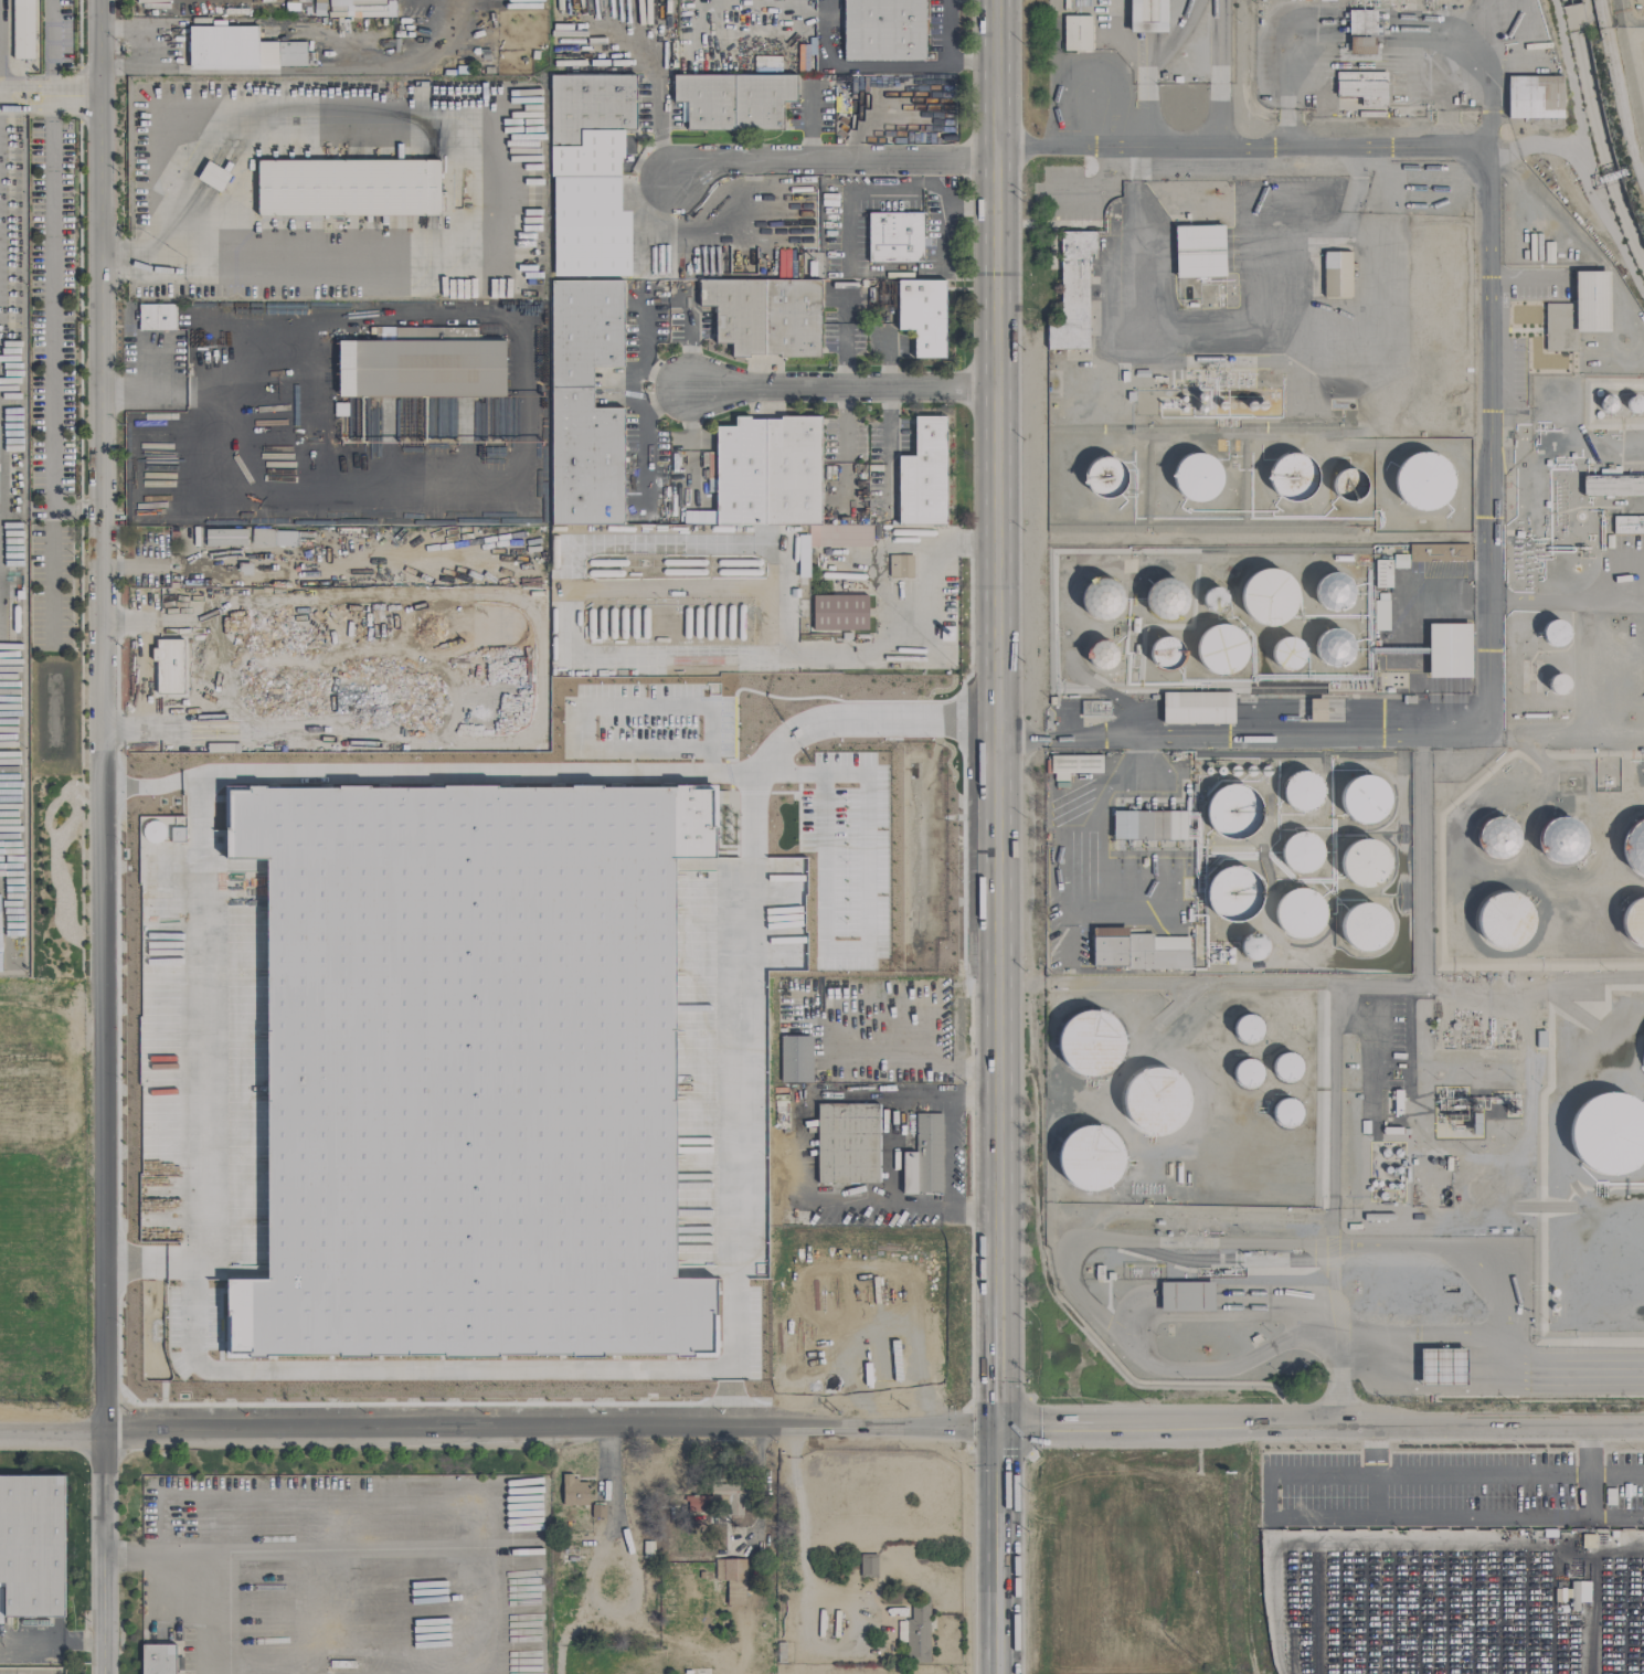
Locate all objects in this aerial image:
building: (314, 7)
road: (1145, 15)
building: (1147, 17)
road: (1573, 18)
building: (1360, 22)
building: (23, 29)
building: (883, 30)
building: (1076, 33)
road: (1219, 42)
building: (1361, 45)
road: (151, 49)
building: (240, 50)
road: (1144, 87)
building: (1362, 88)
road: (62, 95)
road: (12, 97)
building: (1534, 97)
building: (734, 100)
road: (463, 105)
road: (1219, 115)
road: (1580, 131)
road: (1238, 147)
road: (830, 161)
building: (590, 173)
building: (348, 188)
road: (1099, 190)
building: (894, 237)
building: (1199, 251)
building: (1336, 274)
road: (1523, 277)
building: (1072, 292)
building: (1578, 311)
building: (922, 315)
building: (764, 316)
building: (157, 317)
road: (689, 342)
building: (422, 364)
road: (51, 367)
road: (842, 388)
building: (1199, 398)
storage tank: (1199, 398)
building: (1181, 400)
storage tank: (1181, 400)
building: (584, 404)
building: (1633, 404)
storage tank: (1633, 404)
building: (1605, 405)
storage tank: (1605, 405)
building: (1221, 406)
storage tank: (1221, 406)
building: (1250, 406)
storage tank: (1250, 406)
building: (1260, 406)
storage tank: (1260, 406)
building: (1199, 409)
storage tank: (1199, 409)
building: (1181, 410)
storage tank: (1181, 410)
road: (888, 422)
building: (768, 473)
building: (923, 476)
building: (1107, 476)
storage tank: (1107, 476)
building: (1294, 477)
storage tank: (1294, 477)
building: (1197, 479)
storage tank: (1197, 479)
building: (1423, 479)
storage tank: (1423, 479)
building: (1349, 484)
storage tank: (1349, 484)
building: (1613, 486)
building: (1627, 525)
building: (848, 537)
building: (225, 538)
building: (1439, 552)
building: (1400, 561)
building: (900, 566)
road: (181, 572)
building: (1382, 573)
building: (1334, 593)
storage tank: (1334, 593)
building: (1263, 598)
storage tank: (1263, 598)
building: (1216, 600)
storage tank: (1216, 600)
building: (1169, 601)
storage tank: (1169, 601)
road: (1578, 601)
building: (1102, 603)
storage tank: (1102, 603)
building: (839, 612)
building: (1552, 634)
storage tank: (1552, 634)
building: (1222, 647)
storage tank: (1222, 647)
building: (1336, 647)
storage tank: (1336, 647)
building: (1449, 650)
building: (1166, 653)
storage tank: (1166, 653)
building: (1102, 655)
storage tank: (1102, 655)
building: (1288, 655)
storage tank: (1288, 655)
road: (662, 656)
road: (1482, 686)
building: (1558, 686)
storage tank: (1558, 686)
building: (1197, 708)
building: (1094, 709)
building: (1316, 710)
building: (1074, 765)
building: (1303, 793)
storage tank: (1303, 793)
building: (1367, 801)
storage tank: (1367, 801)
road: (1095, 814)
building: (1237, 814)
storage tank: (1237, 814)
building: (1149, 825)
road: (103, 836)
building: (1496, 836)
storage tank: (1496, 836)
road: (994, 837)
building: (1562, 843)
storage tank: (1562, 843)
building: (1635, 848)
storage tank: (1635, 848)
building: (1302, 852)
storage tank: (1302, 852)
building: (1369, 864)
storage tank: (1369, 864)
building: (1234, 894)
storage tank: (1234, 894)
building: (1300, 915)
storage tank: (1300, 915)
building: (1507, 921)
storage tank: (1507, 921)
building: (1635, 923)
storage tank: (1635, 923)
building: (1364, 926)
storage tank: (1364, 926)
building: (1251, 946)
storage tank: (1251, 946)
building: (1137, 951)
road: (747, 975)
road: (1329, 983)
building: (1249, 1031)
storage tank: (1249, 1031)
building: (1095, 1046)
storage tank: (1095, 1046)
building: (796, 1060)
road: (946, 1066)
building: (471, 1069)
building: (1286, 1070)
storage tank: (1286, 1070)
building: (1248, 1076)
storage tank: (1248, 1076)
road: (165, 1078)
road: (897, 1098)
building: (1160, 1104)
storage tank: (1160, 1104)
building: (1286, 1115)
storage tank: (1286, 1115)
building: (1609, 1138)
storage tank: (1609, 1138)
building: (849, 1144)
road: (798, 1151)
road: (891, 1153)
road: (945, 1154)
building: (1383, 1154)
storage tank: (1383, 1154)
building: (1397, 1154)
storage tank: (1397, 1154)
building: (929, 1155)
parking lot: (957, 1155)
building: (1092, 1161)
storage tank: (1092, 1161)
building: (1387, 1170)
storage tank: (1387, 1170)
building: (1397, 1170)
storage tank: (1397, 1170)
road: (1332, 1172)
building: (1371, 1184)
storage tank: (1371, 1184)
building: (1378, 1184)
storage tank: (1378, 1184)
building: (1388, 1186)
storage tank: (1388, 1186)
building: (1397, 1186)
storage tank: (1397, 1186)
building: (1381, 1197)
storage tank: (1381, 1197)
road: (897, 1209)
road: (1054, 1216)
building: (1553, 1293)
storage tank: (1553, 1293)
road: (1346, 1356)
road: (1529, 1356)
building: (1442, 1366)
road: (1165, 1423)
road: (1356, 1424)
road: (1509, 1426)
road: (497, 1429)
road: (1482, 1474)
road: (1591, 1474)
building: (573, 1491)
road: (1333, 1515)
road: (1599, 1516)
road: (1271, 1529)
road: (1489, 1543)
building: (32, 1545)
road: (212, 1551)
building: (868, 1566)
building: (732, 1579)
building: (1578, 1593)
road: (1275, 1609)
building: (918, 1633)
road: (52, 1642)
building: (158, 1660)

